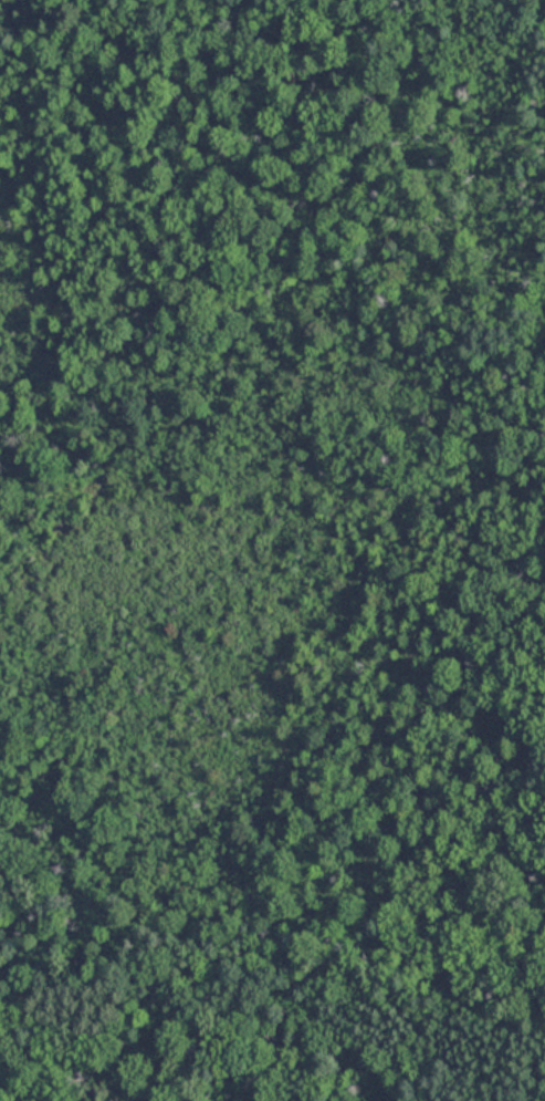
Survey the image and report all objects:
park: (272, 550)

